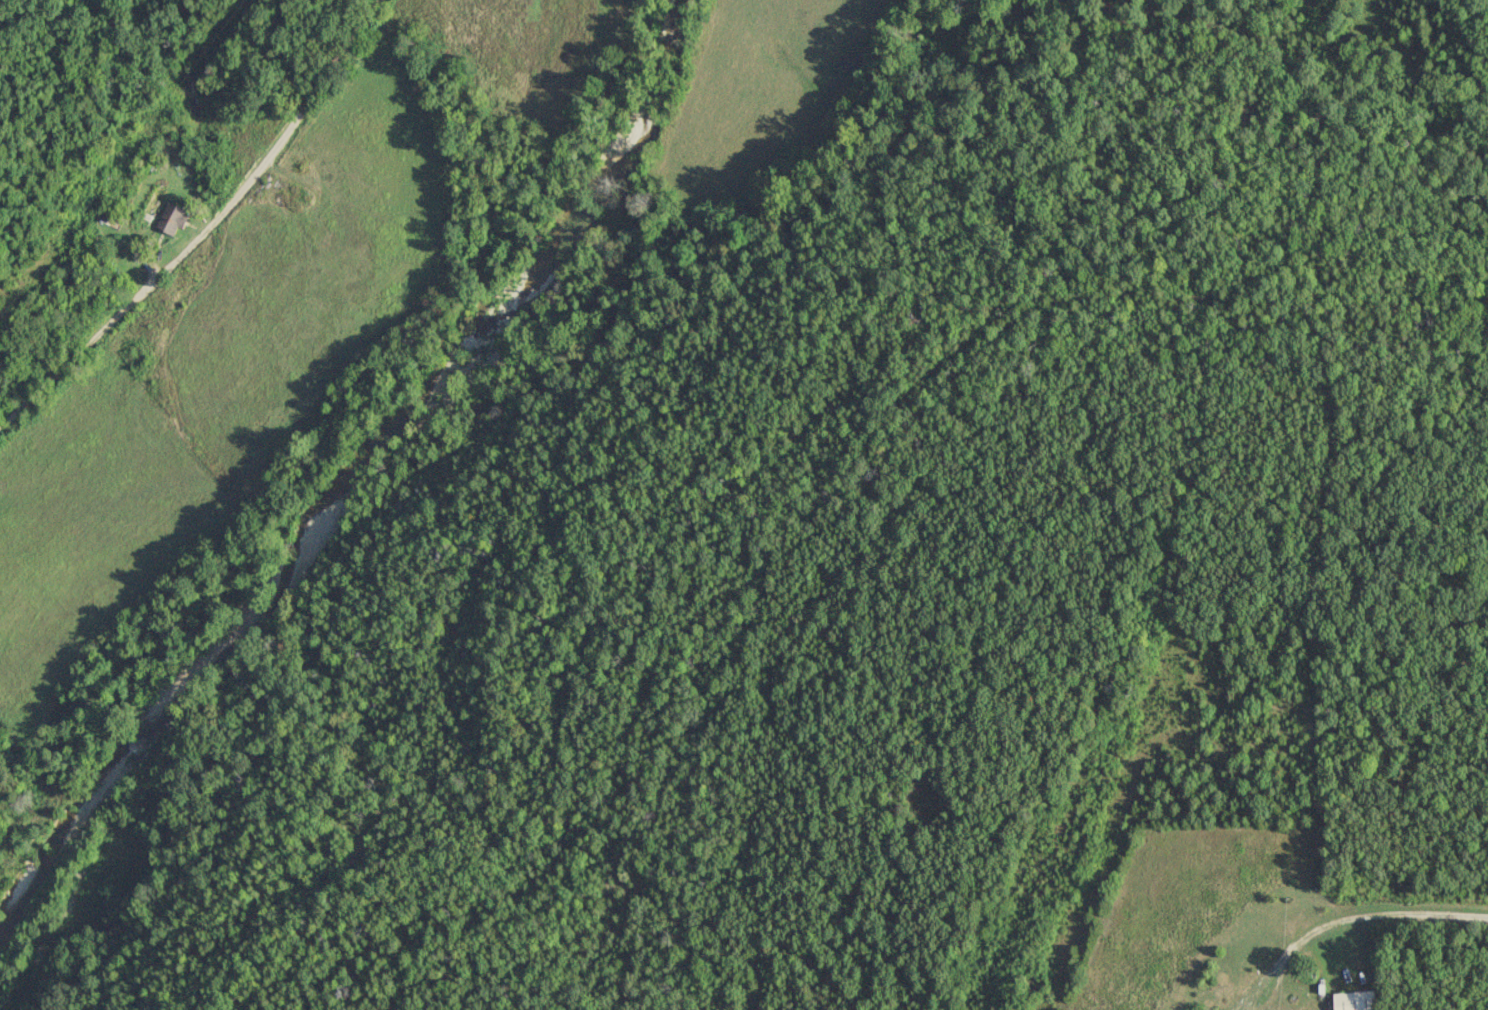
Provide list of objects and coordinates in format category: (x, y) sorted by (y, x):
road: (196, 213)
building: (171, 218)
road: (1347, 919)
building: (1355, 1001)

